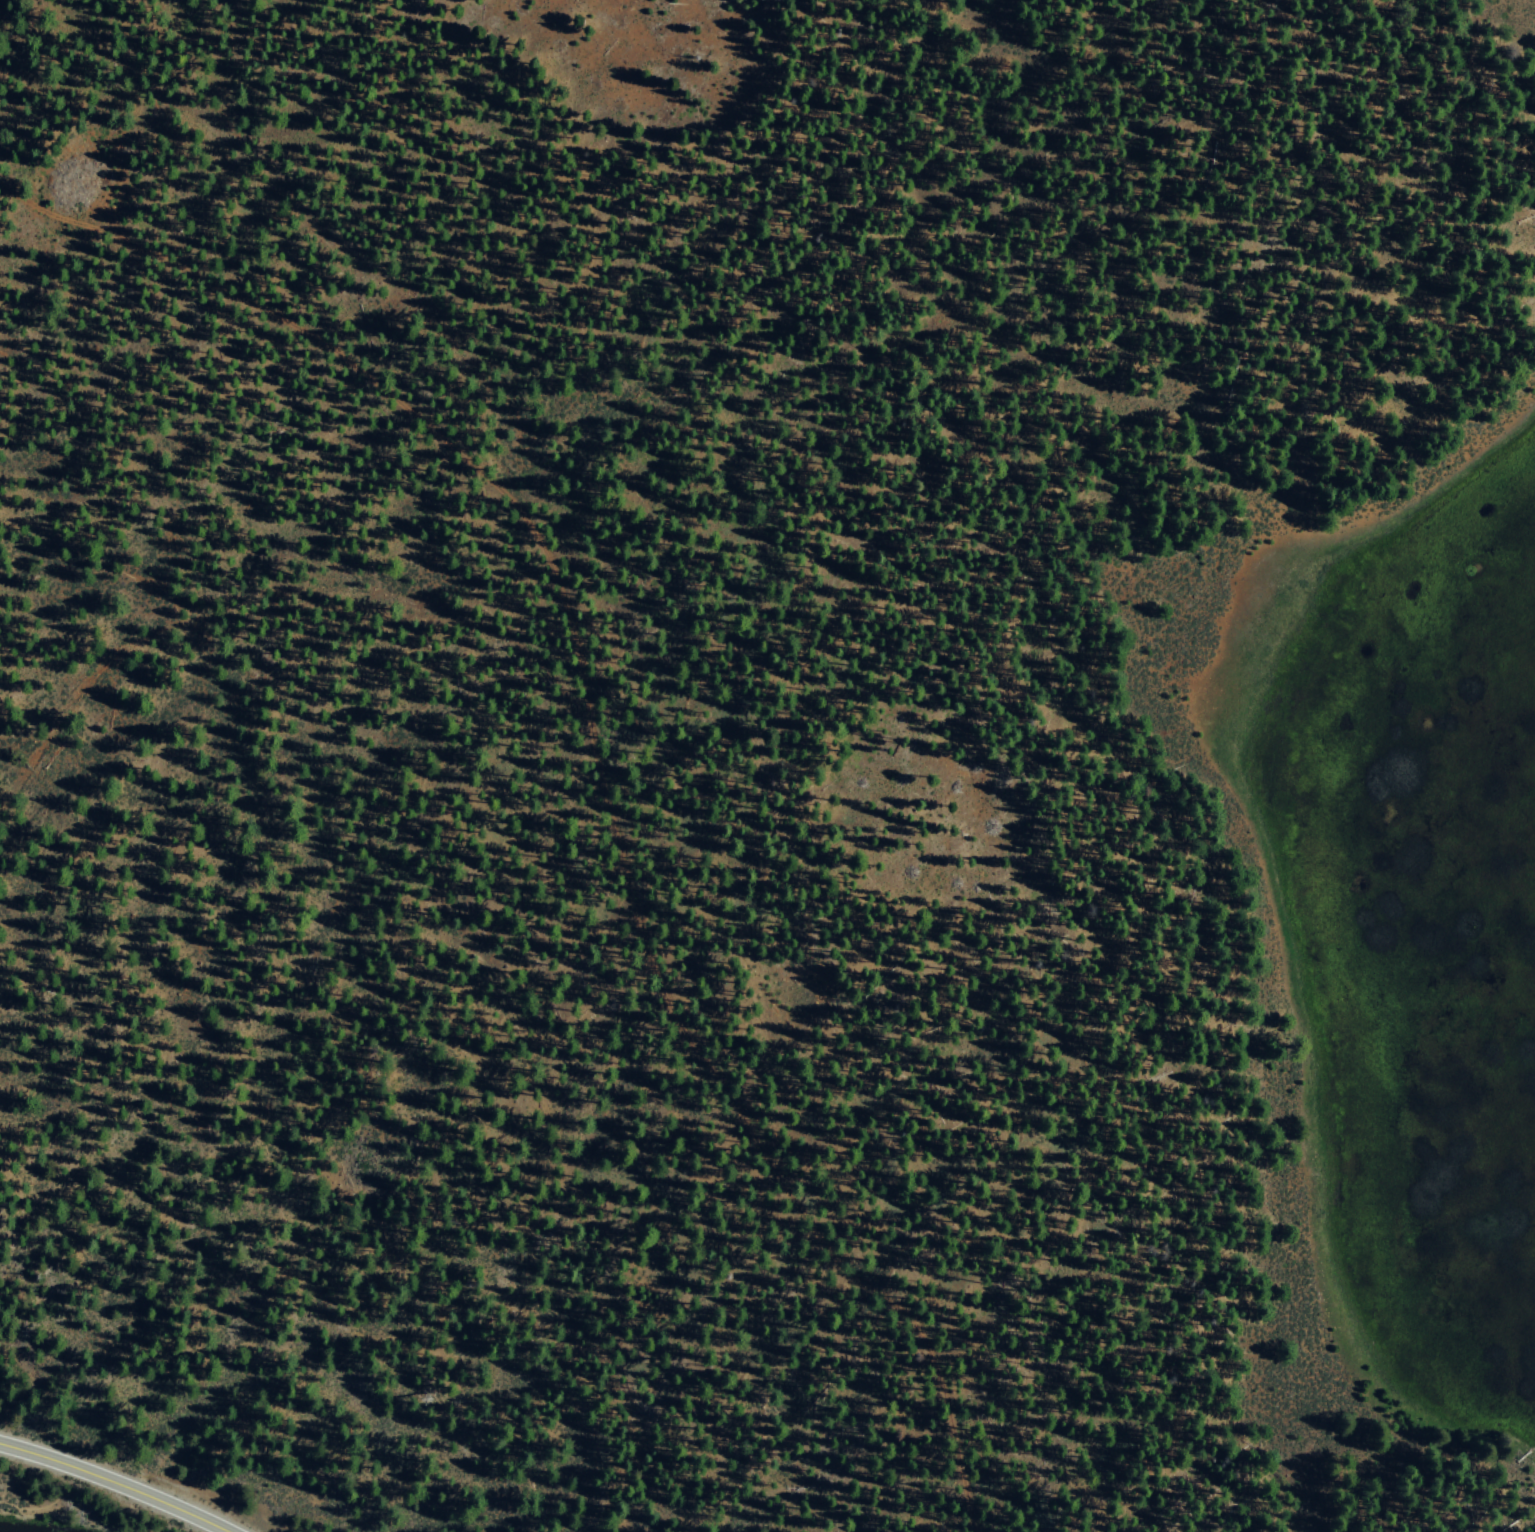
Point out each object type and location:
road: (593, 761)
road: (117, 1481)

